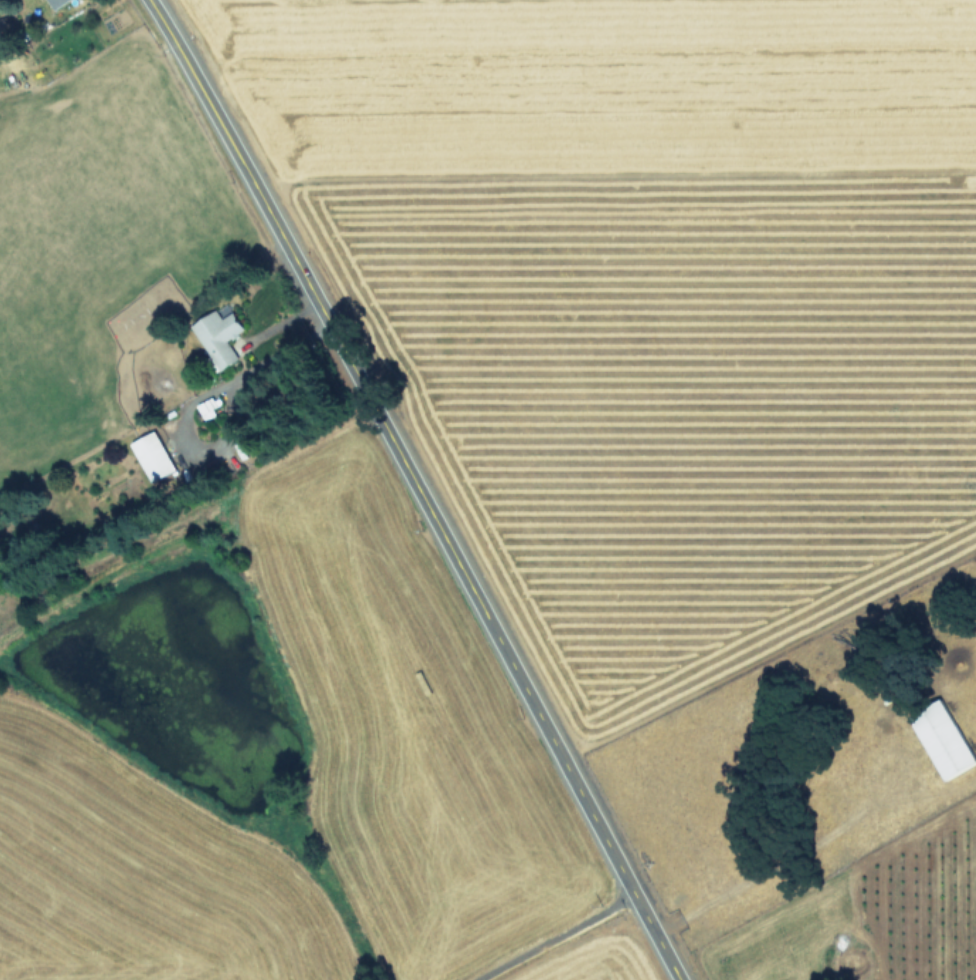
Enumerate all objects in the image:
building: (56, 3)
building: (221, 335)
crop: (688, 411)
building: (155, 455)
road: (415, 488)
crop: (223, 603)
building: (944, 738)
road: (772, 863)
road: (552, 937)

